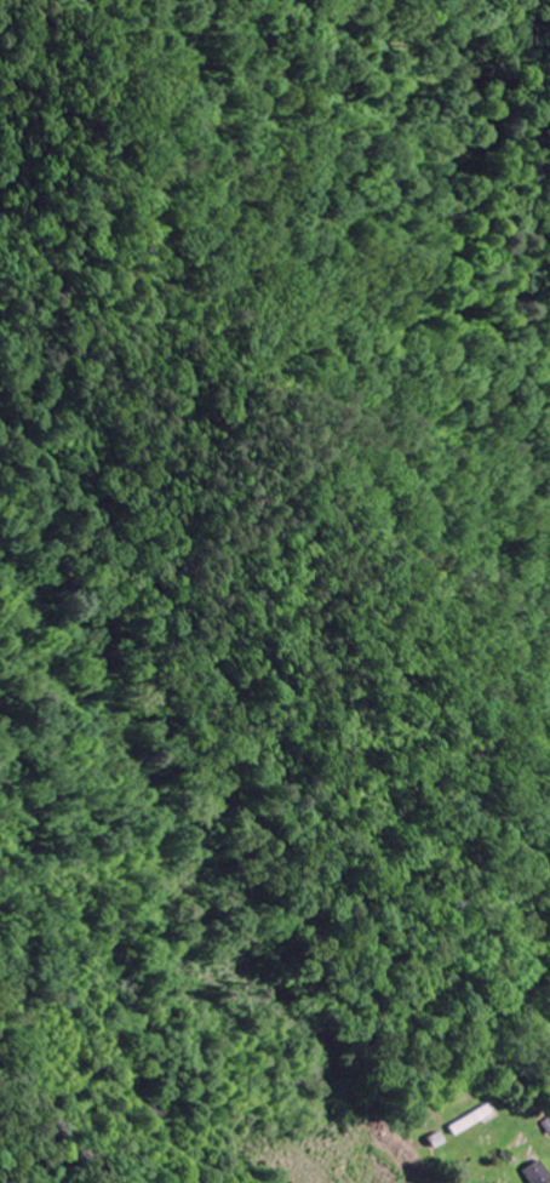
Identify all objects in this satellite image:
building: (538, 1173)

